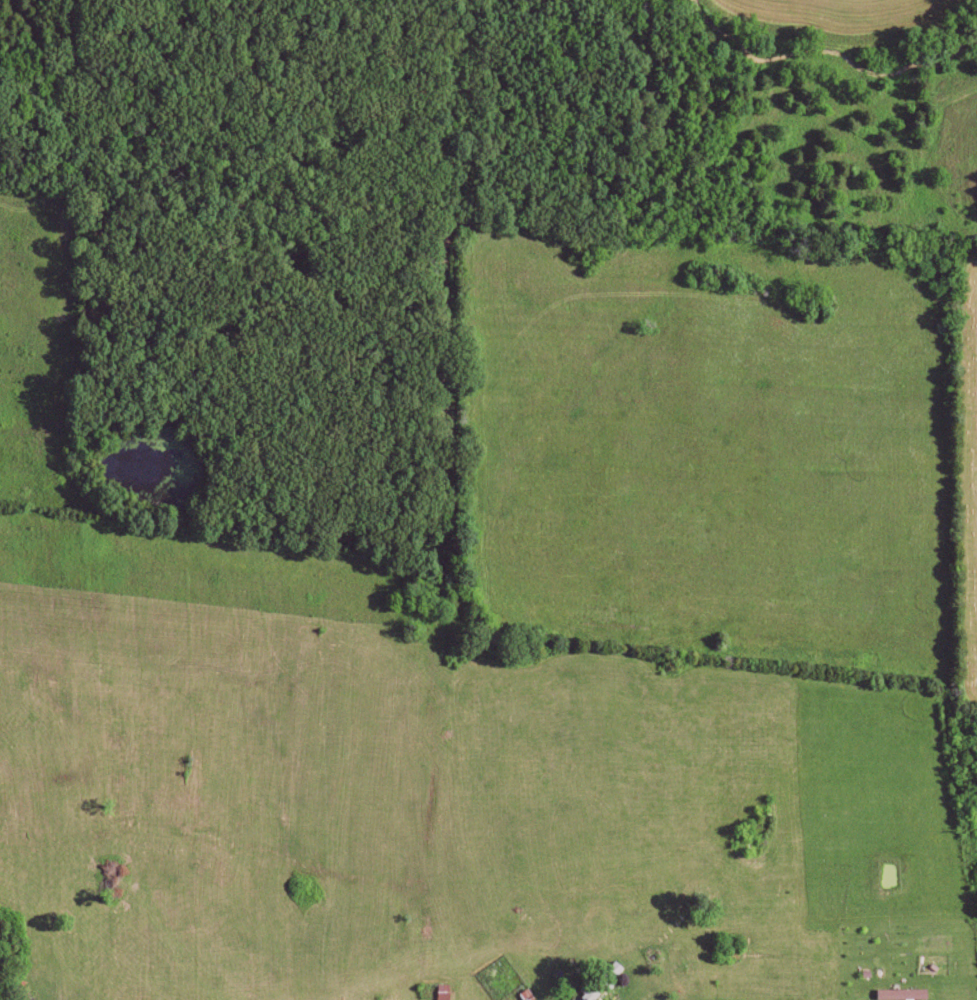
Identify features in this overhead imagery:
building: (608, 981)
building: (908, 993)

